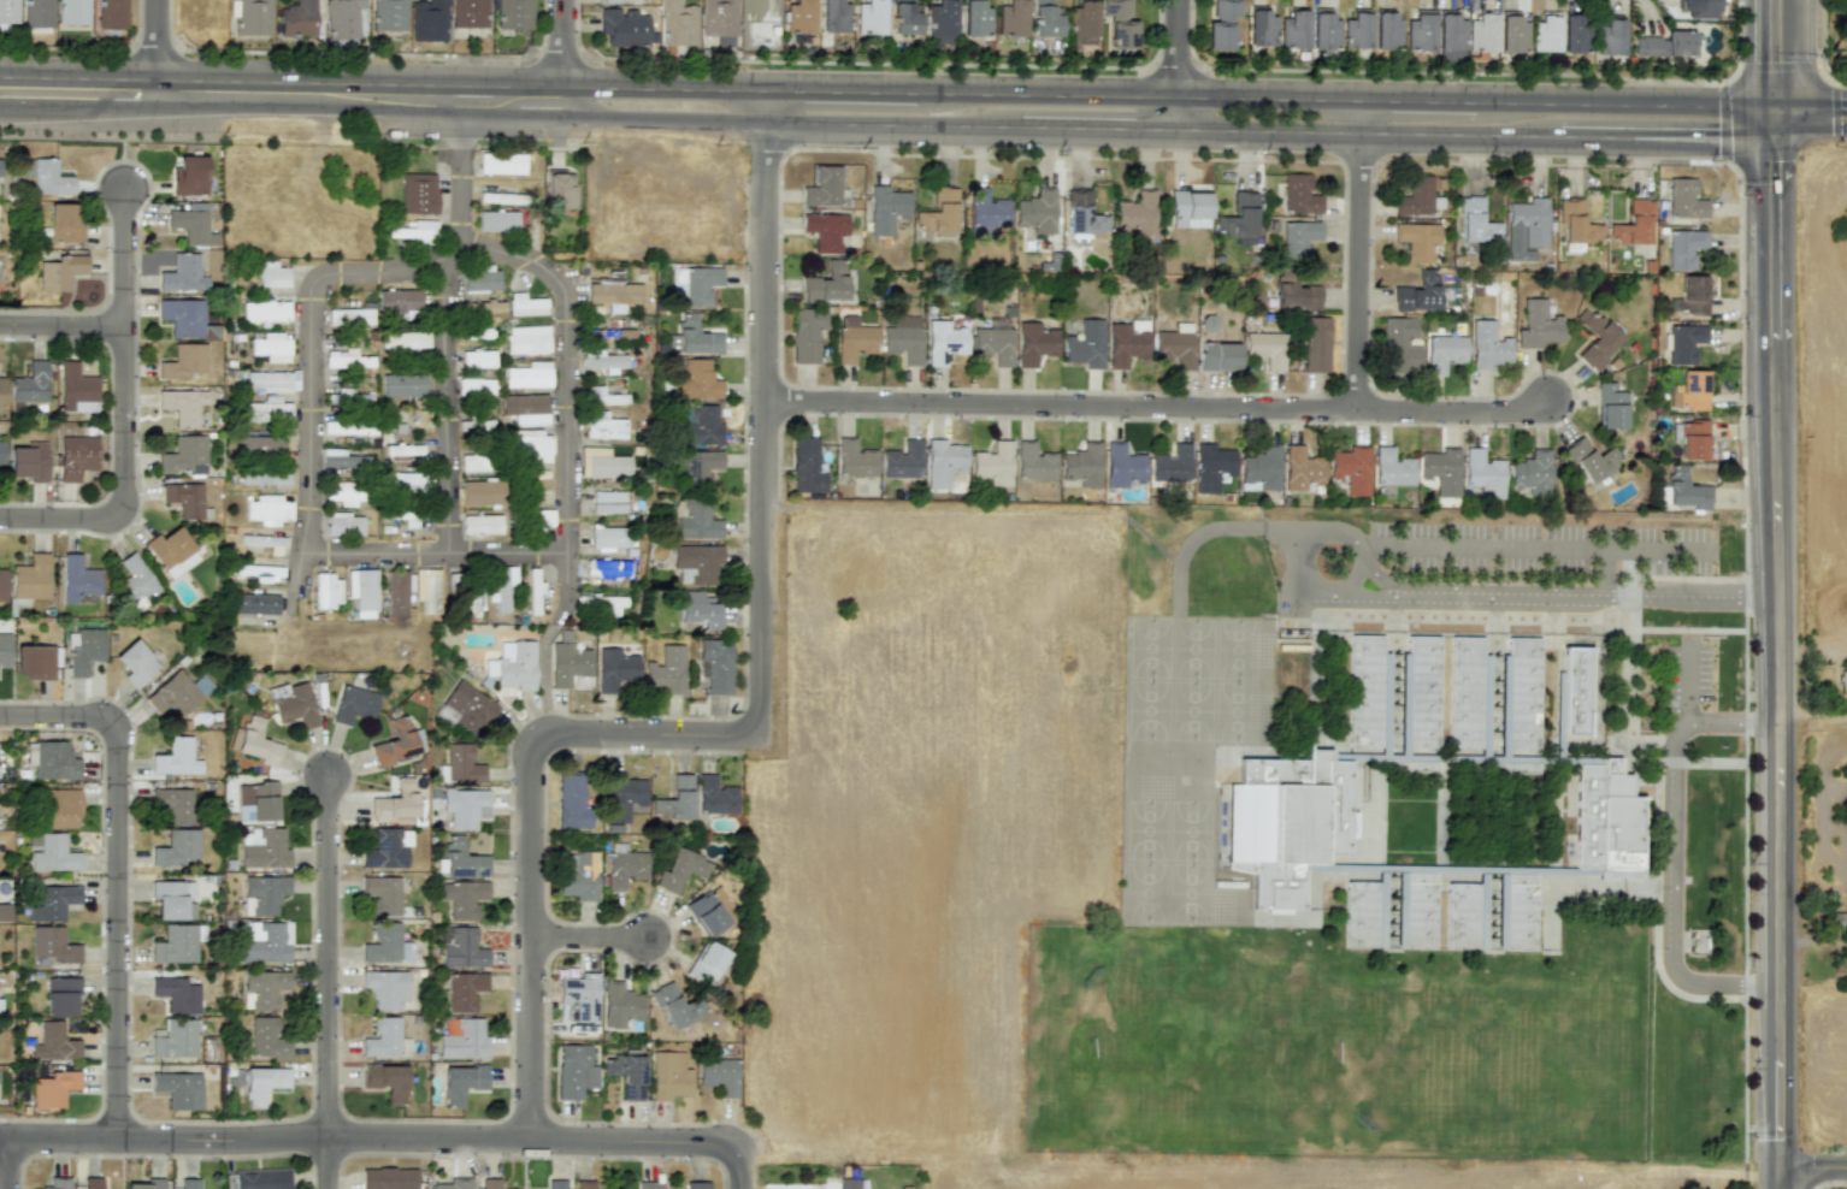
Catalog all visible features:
building: (608, 1)
building: (1698, 7)
building: (8, 11)
building: (72, 12)
building: (37, 13)
building: (470, 13)
building: (111, 14)
building: (388, 14)
building: (513, 14)
building: (250, 16)
building: (833, 16)
building: (719, 17)
building: (798, 17)
building: (869, 17)
building: (903, 17)
building: (297, 18)
building: (342, 18)
building: (974, 18)
building: (1011, 18)
building: (1045, 18)
building: (427, 20)
building: (1081, 20)
building: (939, 22)
building: (677, 23)
building: (1119, 24)
building: (1221, 24)
building: (621, 26)
building: (1261, 29)
building: (1292, 30)
building: (1385, 30)
building: (1323, 31)
building: (1355, 31)
building: (1418, 31)
building: (1481, 32)
building: (1545, 32)
road: (1817, 32)
building: (1512, 34)
building: (1575, 34)
building: (1610, 36)
building: (1448, 37)
building: (1664, 43)
road: (1739, 43)
road: (65, 48)
road: (331, 53)
road: (154, 54)
road: (556, 58)
road: (560, 58)
road: (1778, 59)
road: (867, 63)
road: (1178, 64)
road: (1175, 67)
road: (1770, 69)
road: (1462, 72)
road: (231, 79)
road: (480, 84)
road: (630, 87)
road: (840, 90)
road: (1139, 95)
road: (1417, 100)
road: (1628, 102)
road: (765, 105)
road: (189, 110)
road: (448, 114)
road: (539, 117)
traffic signals: (1781, 118)
road: (1813, 118)
road: (662, 119)
road: (1724, 122)
road: (891, 123)
road: (1098, 126)
road: (1368, 132)
road: (1593, 136)
road: (1706, 137)
road: (1760, 159)
building: (501, 164)
road: (464, 165)
building: (46, 176)
building: (188, 176)
building: (822, 187)
building: (560, 190)
building: (418, 193)
building: (1298, 195)
building: (1415, 196)
building: (1684, 199)
building: (885, 209)
building: (1188, 209)
building: (1037, 211)
building: (938, 212)
building: (986, 212)
building: (1137, 213)
building: (1084, 214)
building: (1239, 219)
building: (497, 220)
building: (1476, 221)
building: (63, 223)
building: (1576, 224)
building: (1631, 224)
building: (190, 226)
building: (1526, 229)
building: (825, 230)
building: (414, 232)
building: (1298, 238)
building: (1417, 241)
building: (1684, 248)
road: (1358, 255)
building: (59, 272)
building: (182, 273)
building: (272, 274)
building: (479, 279)
building: (826, 283)
building: (692, 285)
building: (613, 292)
building: (1417, 292)
building: (1294, 294)
building: (1689, 296)
building: (399, 300)
building: (525, 304)
building: (265, 310)
building: (349, 315)
building: (182, 317)
building: (1538, 325)
road: (61, 330)
building: (602, 333)
building: (806, 335)
road: (311, 337)
building: (692, 337)
building: (854, 338)
building: (904, 338)
building: (1595, 339)
building: (405, 341)
building: (526, 341)
building: (944, 342)
building: (1126, 342)
building: (1683, 342)
building: (1034, 343)
building: (993, 344)
building: (1085, 344)
building: (1175, 344)
building: (1315, 344)
building: (1399, 345)
building: (1487, 345)
building: (270, 347)
building: (1265, 349)
building: (1444, 353)
building: (1218, 355)
building: (347, 359)
building: (477, 359)
building: (601, 360)
building: (182, 361)
road: (568, 368)
building: (529, 375)
building: (271, 380)
building: (696, 380)
building: (29, 383)
building: (402, 385)
building: (474, 388)
building: (76, 389)
building: (1689, 390)
building: (1, 391)
building: (603, 396)
building: (182, 406)
road: (445, 406)
building: (1610, 407)
road: (1158, 408)
building: (525, 409)
building: (267, 410)
road: (123, 418)
building: (698, 425)
building: (348, 427)
building: (603, 427)
road: (763, 430)
building: (1692, 439)
building: (261, 445)
building: (530, 445)
building: (1, 451)
building: (183, 455)
building: (75, 456)
building: (342, 459)
building: (854, 459)
building: (902, 460)
building: (1591, 460)
building: (28, 461)
building: (943, 462)
building: (1033, 462)
building: (993, 463)
building: (1082, 465)
building: (1172, 465)
building: (807, 466)
building: (1122, 466)
building: (606, 467)
building: (697, 467)
building: (1211, 467)
building: (1302, 468)
building: (1352, 468)
building: (1392, 468)
building: (1261, 469)
building: (1441, 471)
building: (1483, 473)
building: (1532, 473)
building: (401, 477)
building: (264, 478)
building: (1684, 490)
building: (478, 492)
building: (340, 493)
building: (184, 498)
building: (607, 502)
building: (267, 509)
building: (403, 515)
building: (695, 520)
building: (344, 525)
building: (480, 525)
road: (1209, 531)
building: (607, 538)
building: (262, 540)
road: (1353, 544)
road: (1532, 544)
road: (1778, 550)
building: (171, 551)
road: (437, 551)
road: (1298, 562)
building: (696, 563)
building: (607, 568)
road: (1606, 572)
building: (259, 573)
building: (30, 578)
building: (77, 579)
building: (135, 581)
building: (2, 585)
building: (501, 585)
building: (426, 588)
building: (326, 591)
building: (361, 591)
road: (1344, 596)
road: (1585, 598)
building: (254, 604)
building: (700, 609)
road: (1813, 647)
building: (5, 650)
building: (83, 650)
building: (34, 661)
building: (567, 661)
building: (135, 663)
building: (514, 664)
building: (715, 666)
building: (615, 670)
building: (665, 670)
building: (1842, 676)
road: (1687, 682)
building: (1572, 692)
building: (1361, 693)
building: (173, 694)
building: (1420, 694)
building: (1462, 694)
building: (1520, 694)
building: (293, 704)
building: (353, 704)
building: (466, 708)
road: (1813, 712)
road: (1733, 721)
building: (255, 741)
building: (395, 744)
building: (176, 757)
building: (51, 759)
building: (460, 765)
building: (714, 795)
building: (621, 797)
building: (674, 799)
building: (572, 800)
building: (255, 801)
building: (395, 801)
building: (173, 804)
building: (464, 806)
building: (60, 808)
road: (527, 820)
building: (1606, 822)
building: (1285, 824)
building: (176, 847)
building: (262, 848)
building: (386, 848)
road: (1672, 852)
building: (53, 854)
building: (460, 859)
building: (624, 866)
building: (680, 869)
road: (114, 872)
building: (579, 877)
building: (264, 894)
building: (382, 894)
building: (462, 898)
building: (172, 899)
building: (52, 903)
building: (1416, 911)
building: (706, 913)
building: (1513, 913)
building: (1358, 916)
building: (1459, 917)
building: (2, 918)
building: (1839, 919)
road: (586, 939)
building: (262, 942)
building: (52, 943)
building: (175, 943)
building: (461, 947)
road: (327, 958)
building: (707, 963)
road: (1734, 983)
building: (385, 988)
building: (262, 989)
building: (465, 990)
building: (176, 994)
building: (60, 995)
building: (579, 998)
building: (620, 1005)
building: (677, 1006)
building: (175, 1039)
building: (267, 1039)
building: (382, 1039)
building: (464, 1040)
building: (53, 1042)
building: (574, 1071)
building: (627, 1072)
road: (1780, 1073)
building: (668, 1075)
building: (719, 1075)
building: (385, 1081)
building: (461, 1082)
building: (261, 1083)
building: (53, 1088)
building: (178, 1089)
road: (370, 1140)
road: (7, 1164)
road: (326, 1164)
road: (1813, 1164)
road: (740, 1166)
road: (1780, 1176)
building: (261, 1178)
building: (388, 1178)
building: (57, 1183)
building: (90, 1183)
building: (189, 1183)
building: (454, 1183)
building: (490, 1183)
building: (848, 1183)
building: (146, 1184)
building: (555, 1184)
building: (583, 1184)
building: (649, 1184)
building: (696, 1184)

